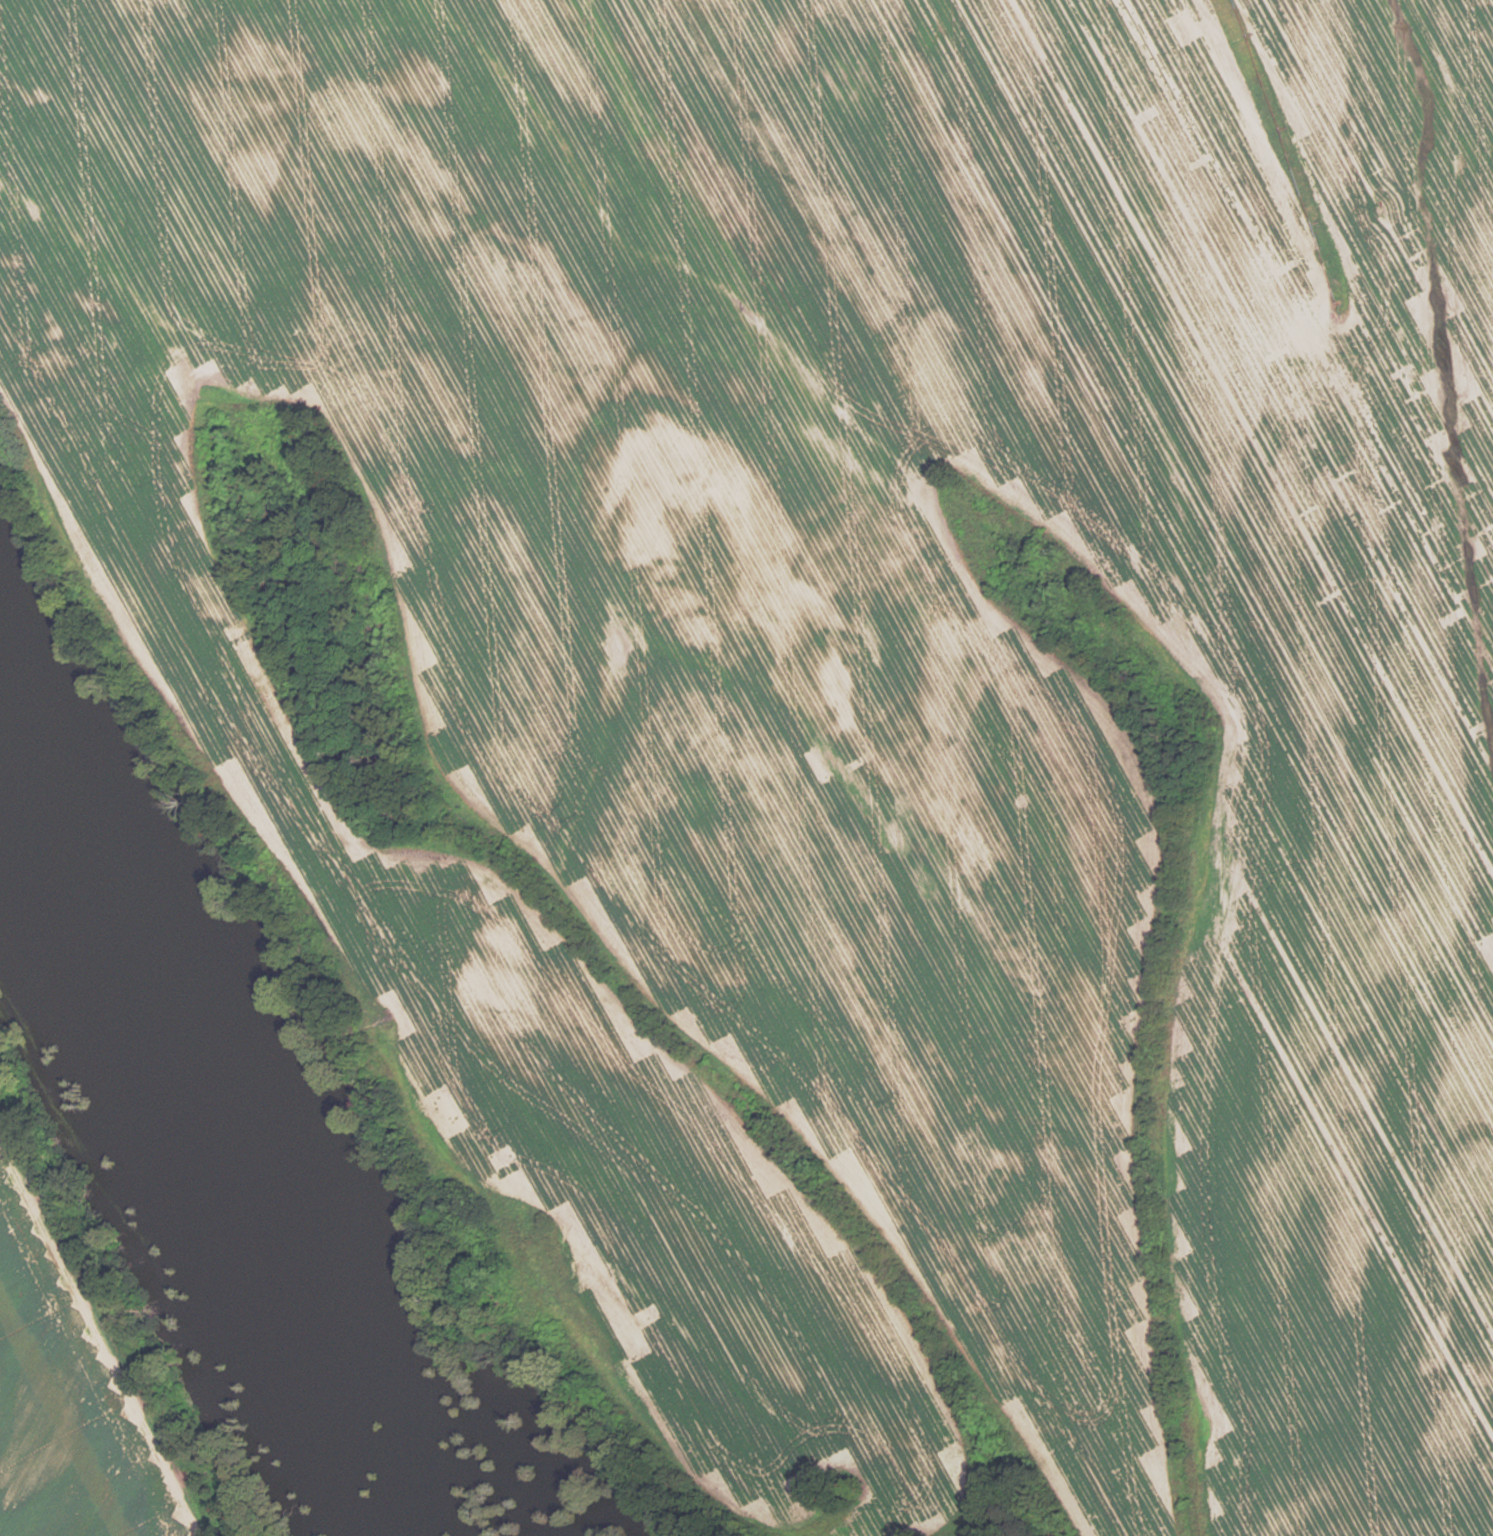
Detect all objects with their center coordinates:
road: (175, 717)

